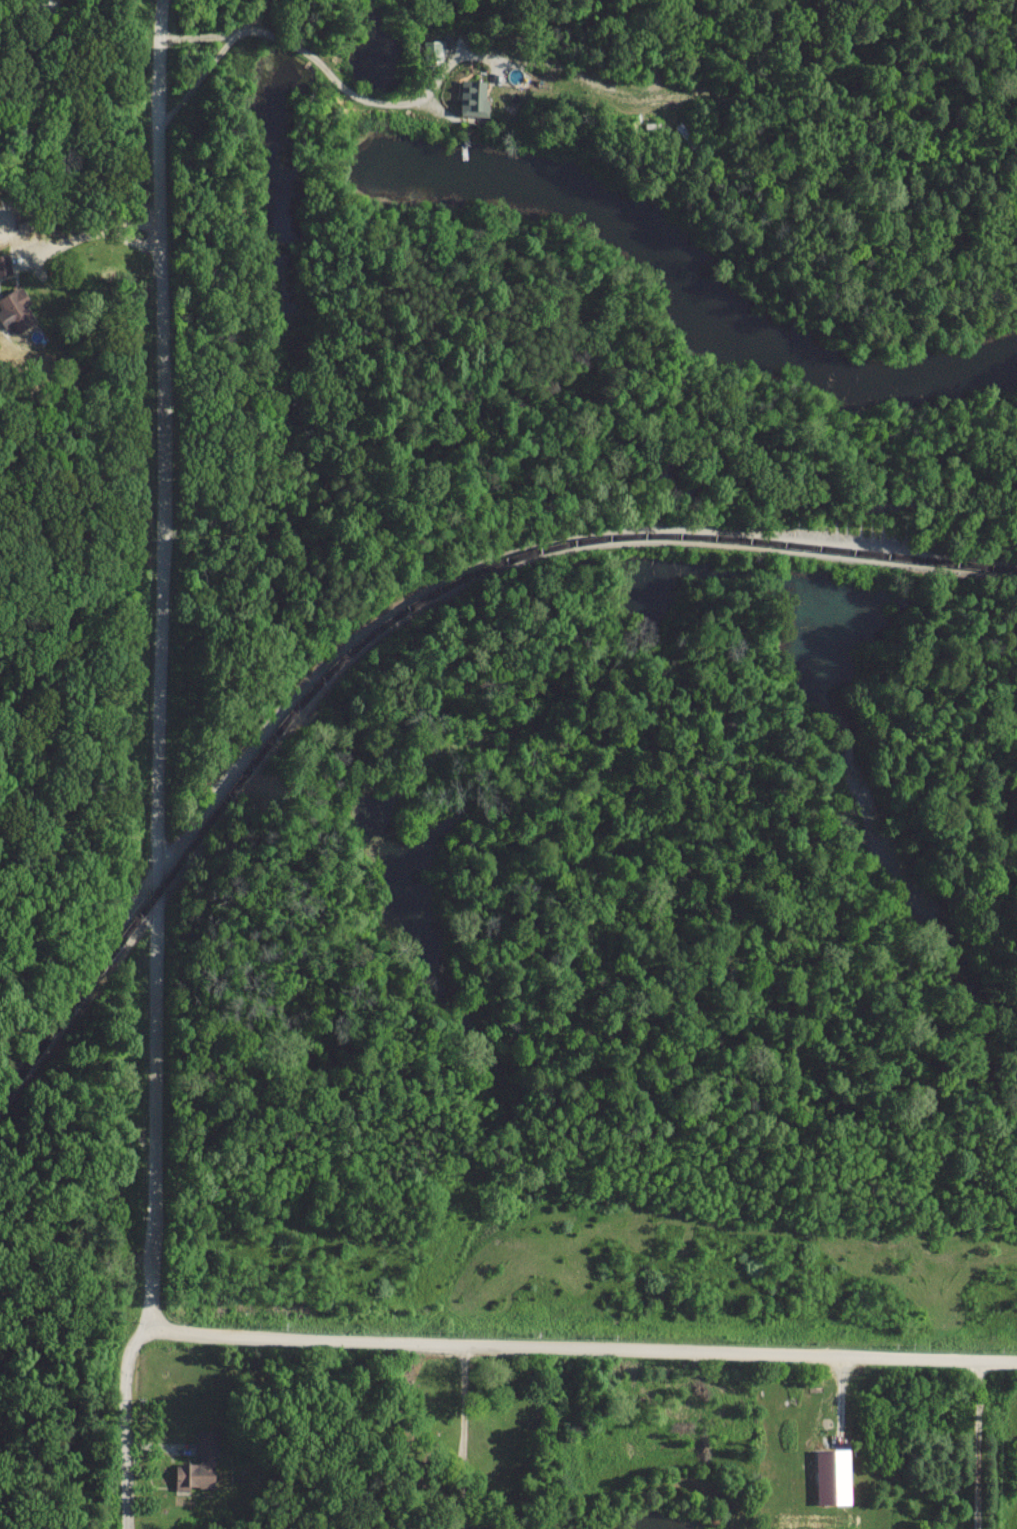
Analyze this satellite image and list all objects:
road: (342, 84)
building: (475, 98)
road: (92, 235)
building: (5, 264)
building: (15, 309)
railway: (401, 615)
road: (162, 768)
road: (583, 1348)
road: (465, 1437)
road: (977, 1444)
building: (200, 1464)
building: (833, 1477)

